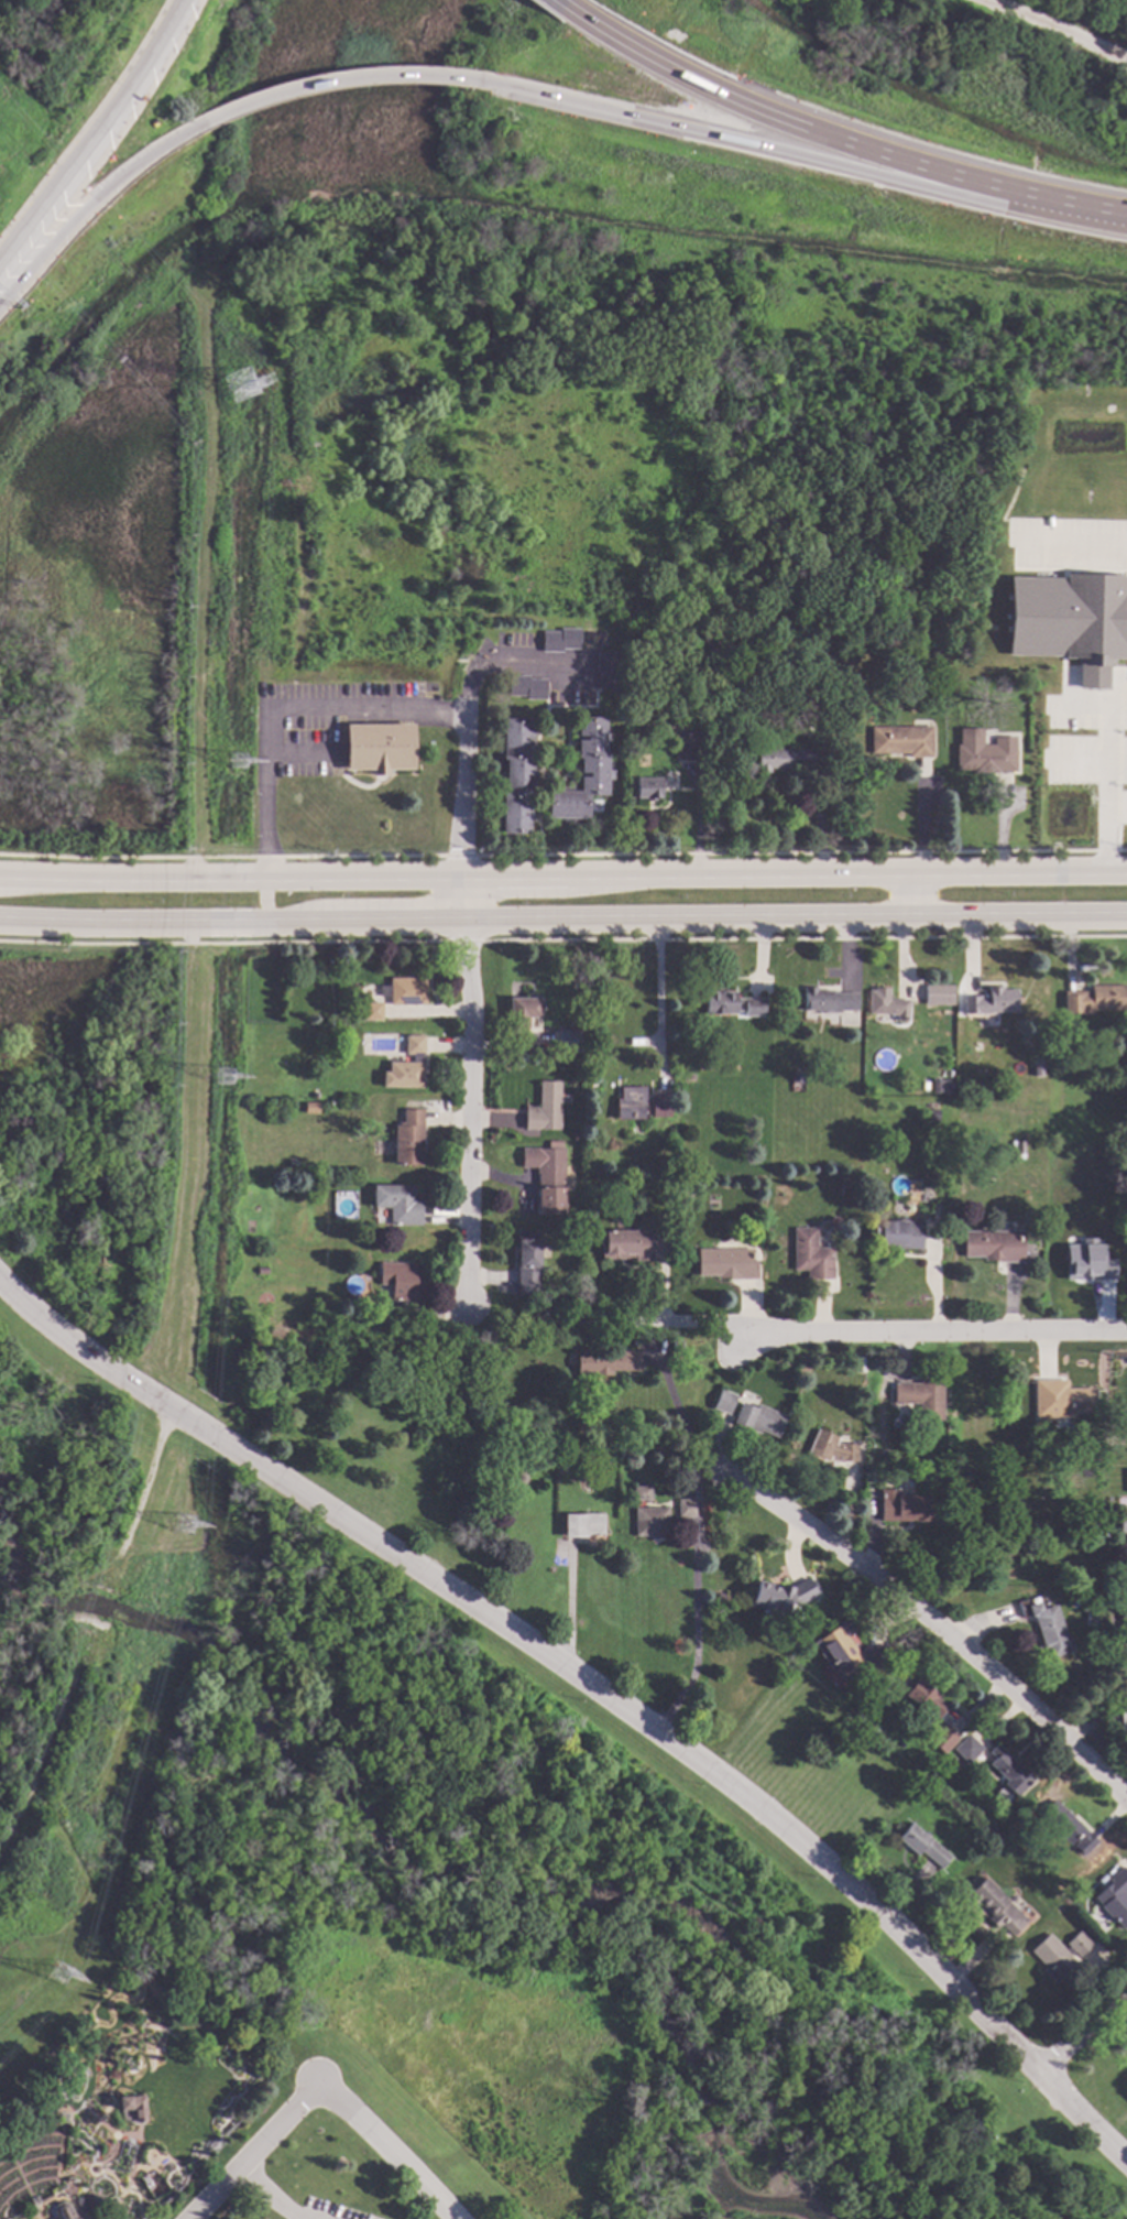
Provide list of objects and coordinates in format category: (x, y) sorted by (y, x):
road: (566, 7)
road: (333, 88)
road: (98, 140)
road: (841, 143)
road: (798, 163)
road: (95, 202)
power tower: (240, 385)
road: (1075, 543)
park: (94, 622)
building: (559, 641)
road: (510, 661)
building: (608, 671)
building: (1106, 675)
building: (526, 688)
building: (1005, 688)
road: (366, 705)
building: (807, 733)
building: (497, 740)
building: (902, 742)
building: (378, 749)
road: (298, 751)
building: (685, 752)
building: (784, 759)
building: (985, 759)
power tower: (236, 760)
building: (582, 774)
building: (500, 776)
building: (516, 776)
road: (466, 783)
building: (648, 790)
road: (266, 812)
building: (497, 814)
road: (1104, 834)
road: (797, 872)
road: (232, 874)
road: (916, 894)
road: (467, 896)
road: (797, 917)
road: (233, 922)
building: (403, 990)
building: (939, 993)
road: (657, 999)
building: (1094, 999)
building: (828, 1000)
building: (991, 1001)
building: (731, 1003)
building: (885, 1003)
building: (365, 1011)
building: (522, 1011)
building: (569, 1041)
building: (976, 1046)
building: (1033, 1064)
building: (406, 1066)
building: (797, 1076)
power tower: (223, 1077)
building: (937, 1085)
building: (594, 1086)
building: (630, 1102)
building: (660, 1105)
building: (310, 1107)
building: (544, 1107)
road: (467, 1113)
building: (931, 1113)
park: (86, 1114)
building: (578, 1135)
building: (407, 1138)
building: (1016, 1147)
building: (1007, 1163)
building: (547, 1175)
building: (307, 1185)
building: (686, 1197)
building: (917, 1199)
building: (397, 1203)
building: (833, 1221)
building: (898, 1234)
building: (625, 1244)
building: (994, 1244)
building: (810, 1254)
building: (726, 1262)
building: (1086, 1262)
building: (527, 1263)
building: (261, 1270)
building: (398, 1280)
road: (934, 1281)
road: (884, 1329)
building: (676, 1345)
building: (604, 1361)
building: (858, 1363)
building: (921, 1396)
road: (672, 1399)
building: (1060, 1399)
building: (723, 1402)
building: (759, 1418)
park: (407, 1436)
building: (830, 1448)
building: (602, 1466)
building: (680, 1466)
park: (50, 1467)
building: (641, 1492)
building: (904, 1506)
building: (686, 1508)
building: (650, 1521)
building: (1123, 1521)
power tower: (180, 1524)
building: (582, 1524)
building: (1096, 1527)
building: (779, 1596)
building: (1121, 1605)
road: (569, 1610)
road: (929, 1611)
building: (1092, 1618)
building: (1114, 1623)
building: (1047, 1624)
road: (696, 1632)
building: (1126, 1639)
building: (849, 1653)
road: (591, 1687)
building: (924, 1697)
building: (1124, 1721)
building: (942, 1738)
road: (1096, 1740)
building: (967, 1749)
park: (814, 1760)
building: (1009, 1771)
building: (1065, 1826)
building: (922, 1845)
river: (431, 1852)
building: (1114, 1896)
building: (995, 1906)
park: (562, 1936)
building: (1058, 1954)
power tower: (57, 1975)
road: (1081, 2031)
park: (1103, 2074)
building: (131, 2110)
road: (384, 2151)
road: (251, 2153)
building: (123, 2157)
park: (316, 2179)
road: (264, 2196)
building: (94, 2200)
building: (61, 2210)

